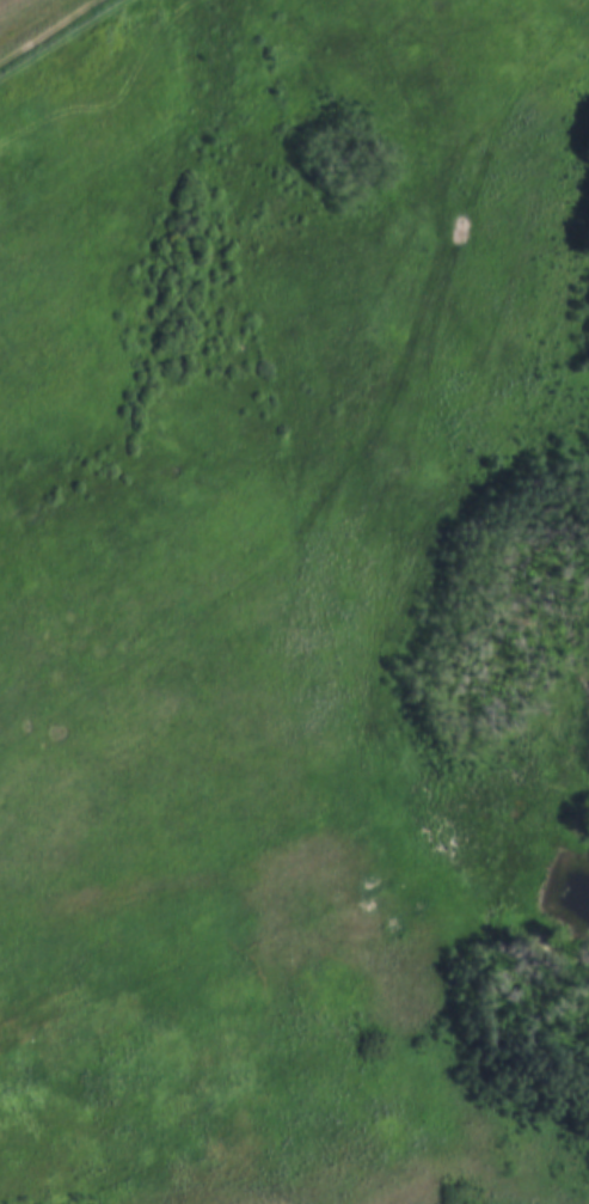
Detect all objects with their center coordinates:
road: (44, 31)

